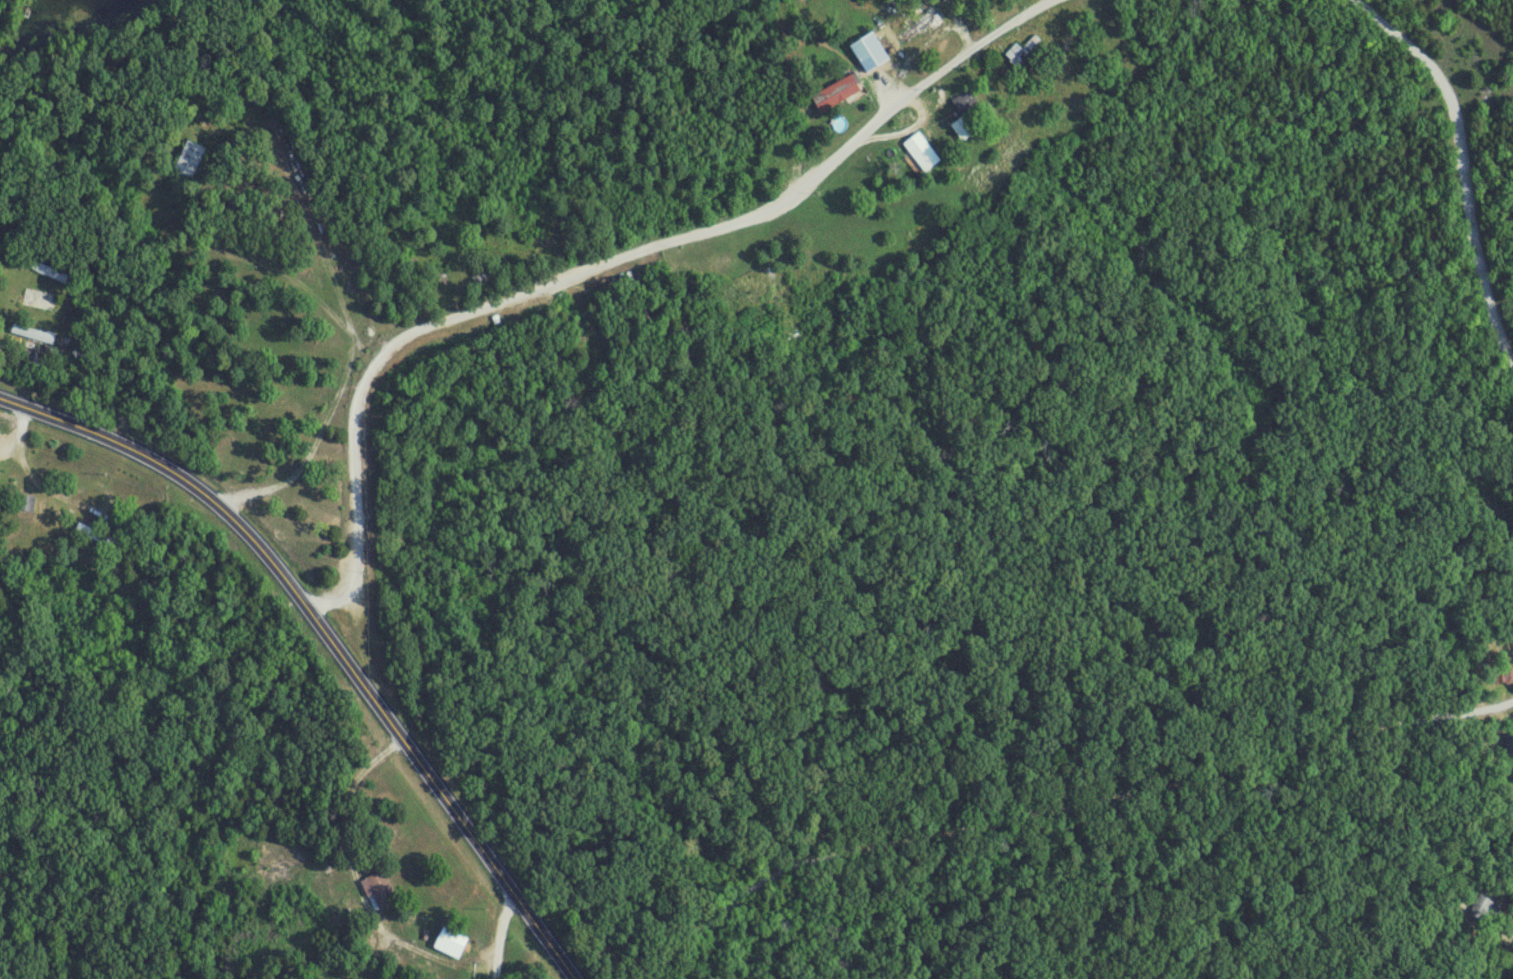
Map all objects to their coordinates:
building: (925, 26)
building: (1022, 51)
building: (870, 52)
building: (838, 93)
building: (965, 101)
building: (964, 128)
building: (921, 154)
building: (190, 159)
road: (1462, 168)
road: (318, 245)
road: (600, 266)
building: (51, 272)
building: (34, 335)
road: (351, 335)
building: (42, 359)
building: (27, 503)
building: (87, 530)
road: (329, 636)
building: (1508, 675)
building: (1509, 744)
road: (1060, 810)
road: (354, 880)
building: (382, 890)
building: (1482, 908)
road: (498, 938)
building: (452, 940)
road: (1510, 963)

